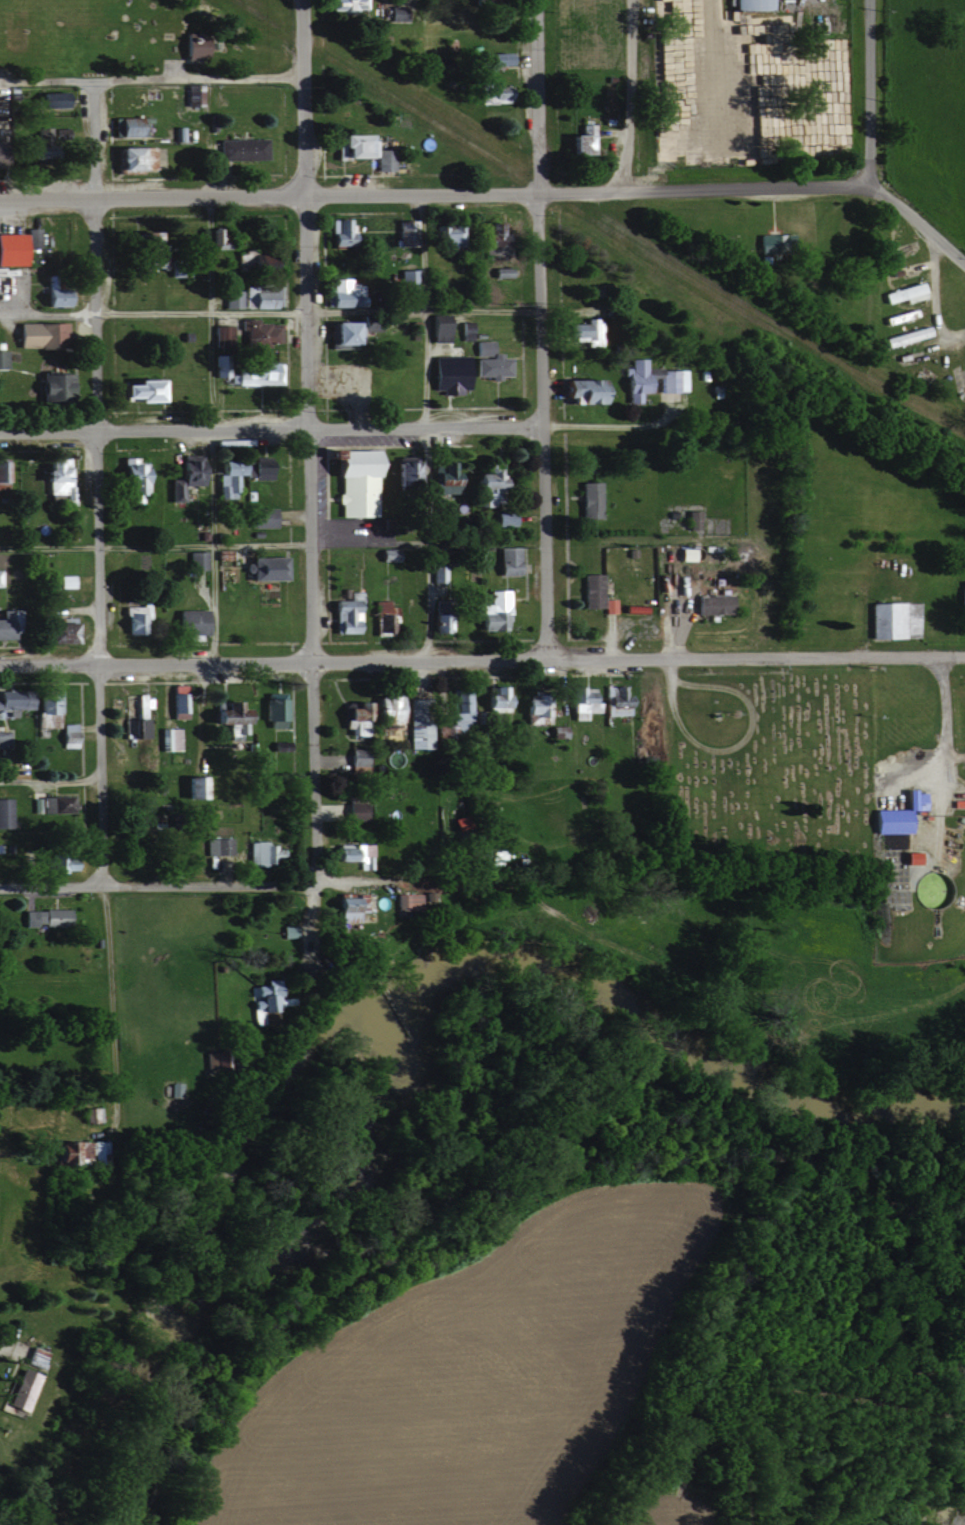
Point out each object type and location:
building: (484, 1)
building: (345, 4)
building: (745, 4)
building: (395, 12)
building: (190, 46)
building: (494, 58)
road: (149, 78)
building: (489, 92)
road: (865, 92)
building: (193, 94)
road: (627, 96)
road: (534, 97)
building: (48, 99)
road: (300, 99)
building: (46, 131)
road: (89, 139)
building: (578, 139)
building: (238, 149)
building: (360, 149)
building: (130, 157)
road: (465, 195)
building: (404, 230)
building: (337, 231)
building: (446, 234)
building: (30, 237)
building: (216, 238)
building: (488, 238)
building: (143, 241)
building: (771, 242)
road: (940, 247)
building: (11, 248)
building: (501, 271)
building: (407, 279)
building: (339, 293)
building: (902, 293)
building: (53, 295)
building: (258, 296)
building: (229, 298)
road: (925, 306)
road: (268, 312)
building: (435, 327)
building: (580, 331)
building: (255, 333)
building: (343, 333)
building: (38, 334)
building: (905, 336)
building: (481, 347)
building: (1, 358)
building: (489, 366)
building: (254, 373)
building: (446, 373)
building: (650, 378)
building: (52, 384)
building: (137, 390)
building: (579, 390)
road: (540, 427)
road: (337, 429)
road: (427, 429)
road: (208, 432)
building: (2, 469)
building: (256, 469)
building: (224, 473)
building: (403, 473)
building: (182, 475)
building: (440, 478)
building: (55, 479)
building: (351, 480)
building: (481, 484)
building: (586, 499)
building: (261, 517)
building: (502, 517)
building: (689, 519)
road: (93, 544)
road: (271, 545)
building: (682, 554)
building: (505, 560)
building: (263, 568)
building: (64, 581)
road: (306, 588)
building: (588, 590)
building: (709, 603)
building: (607, 605)
building: (492, 611)
building: (345, 614)
building: (383, 617)
building: (133, 618)
building: (891, 619)
building: (188, 621)
building: (440, 621)
building: (5, 625)
building: (57, 631)
road: (482, 662)
building: (12, 699)
building: (494, 699)
building: (613, 700)
building: (177, 701)
building: (581, 702)
building: (140, 706)
building: (458, 706)
building: (47, 708)
building: (533, 710)
building: (371, 712)
building: (271, 713)
building: (136, 728)
building: (417, 734)
building: (67, 735)
road: (943, 737)
building: (167, 739)
road: (49, 781)
building: (194, 787)
building: (51, 809)
building: (3, 810)
building: (351, 810)
building: (894, 814)
building: (215, 846)
building: (351, 854)
building: (906, 857)
building: (57, 862)
road: (367, 879)
road: (154, 889)
building: (349, 905)
building: (41, 917)
road: (108, 1015)
building: (89, 1113)
building: (76, 1150)
road: (4, 1349)
building: (33, 1357)
building: (18, 1390)

